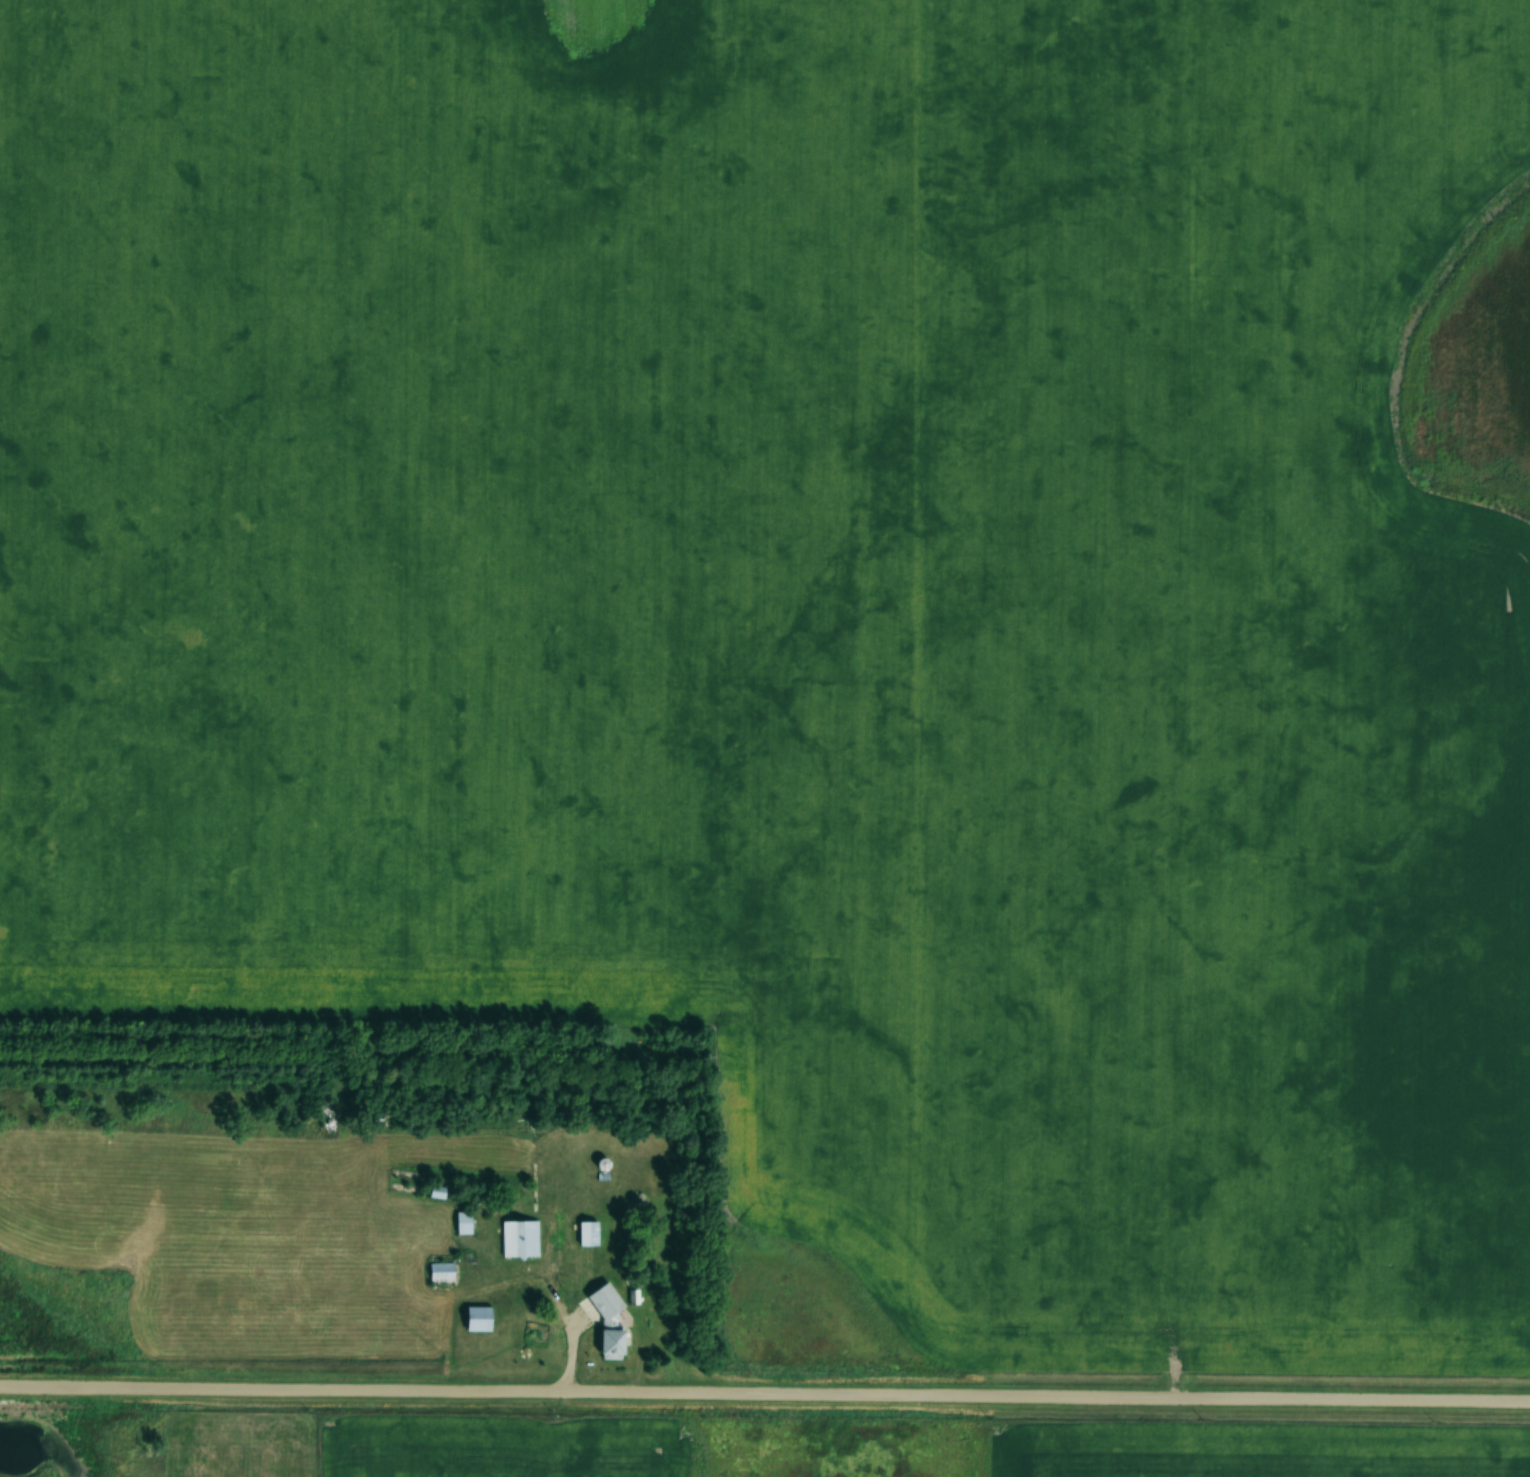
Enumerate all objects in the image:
building: (463, 1222)
building: (588, 1233)
building: (516, 1237)
building: (440, 1272)
road: (608, 1311)
building: (477, 1319)
building: (611, 1342)
road: (764, 1393)

